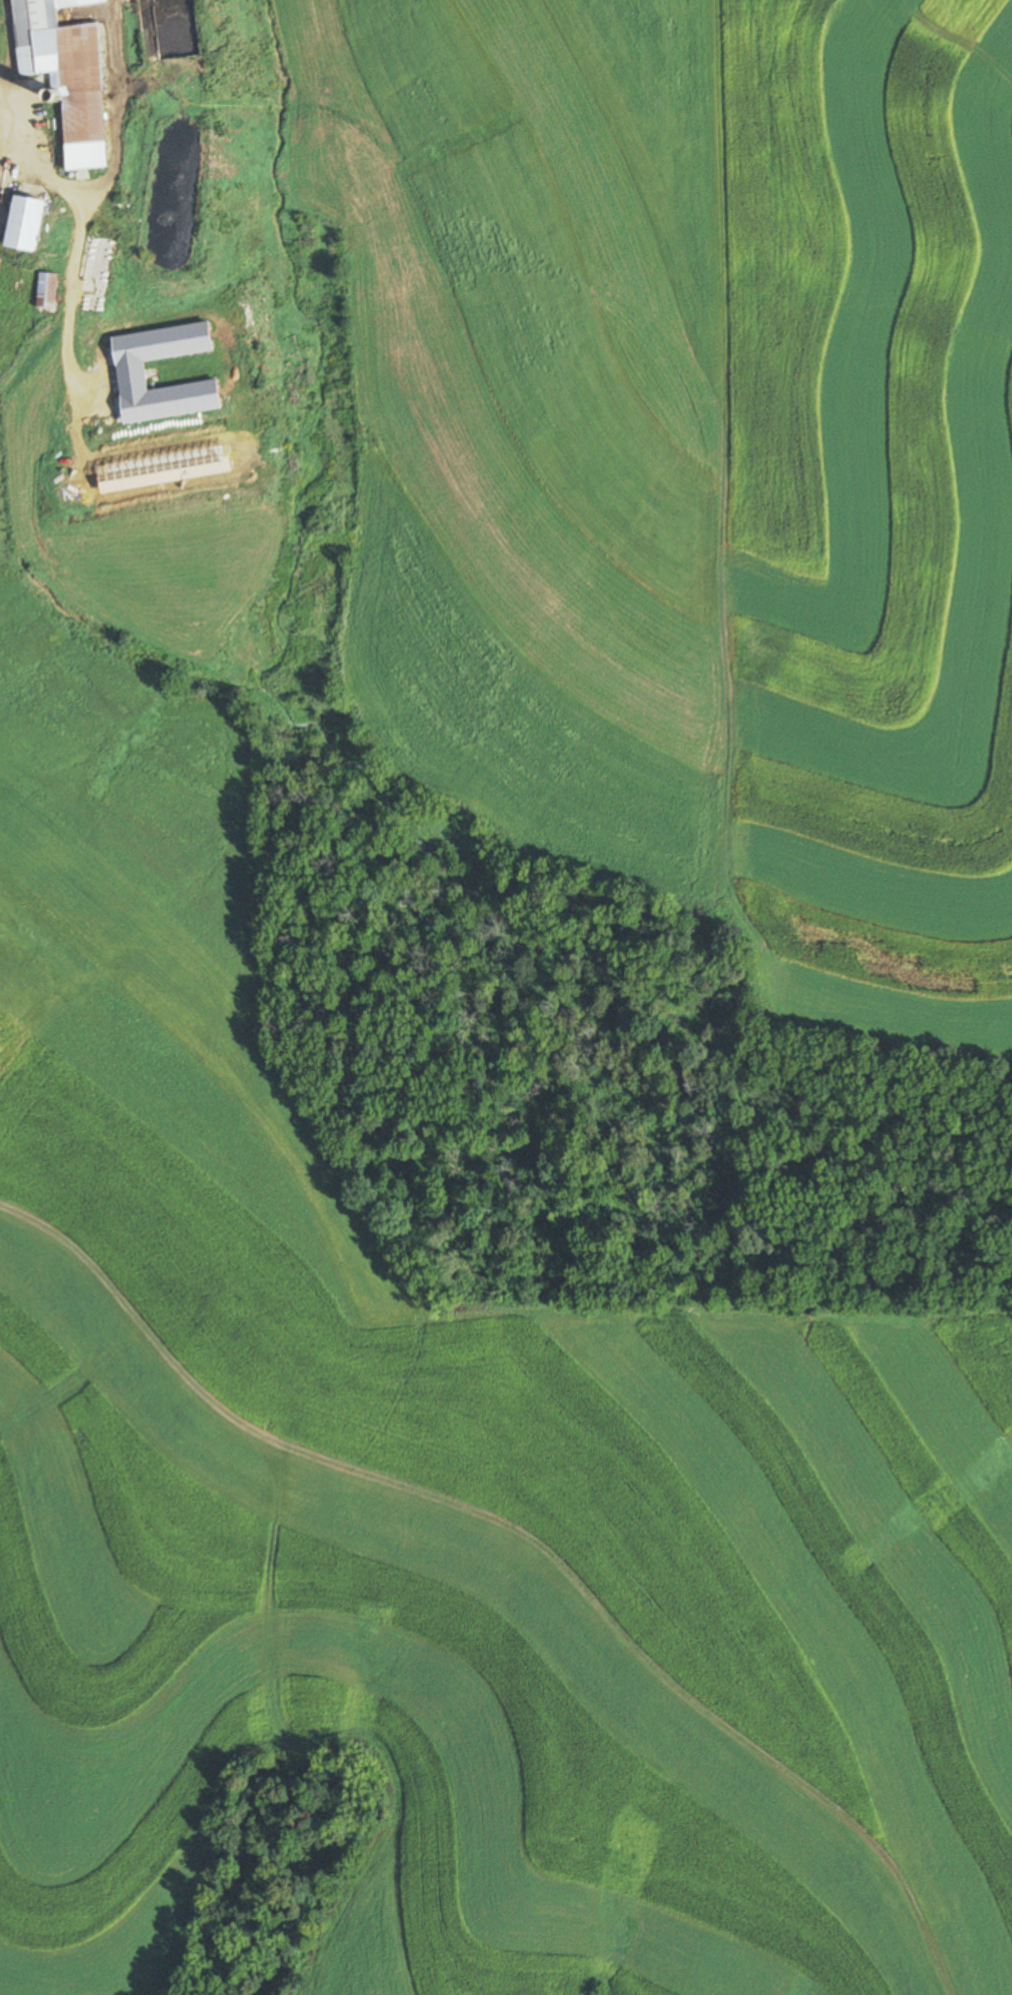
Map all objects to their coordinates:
building: (67, 76)
road: (37, 104)
building: (27, 222)
building: (47, 290)

